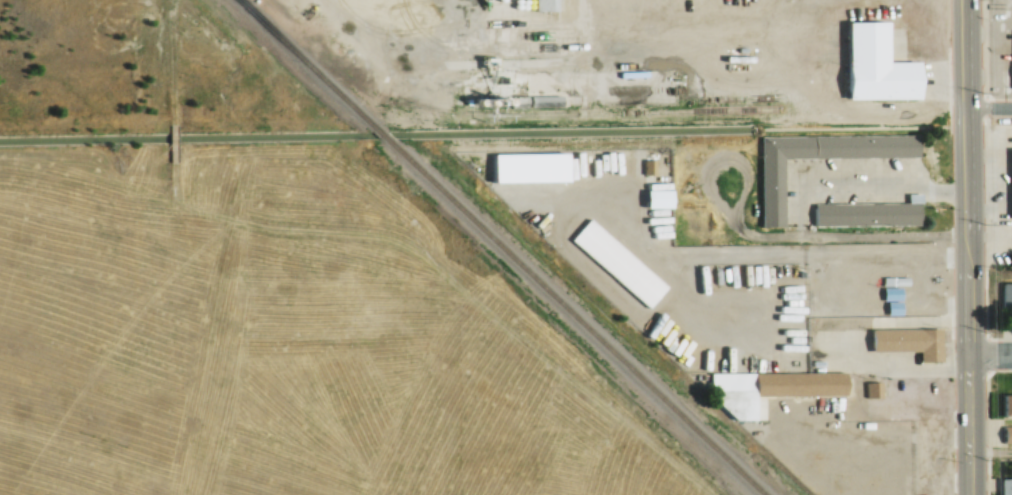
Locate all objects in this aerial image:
building: (546, 5)
building: (881, 72)
building: (546, 100)
road: (992, 110)
building: (1011, 177)
building: (379, 194)
building: (775, 197)
building: (869, 219)
railway: (505, 246)
road: (973, 247)
building: (622, 268)
building: (1007, 297)
building: (910, 341)
road: (993, 356)
building: (804, 389)
building: (873, 389)
building: (1008, 404)
building: (1009, 433)
road: (993, 452)
building: (1006, 485)

